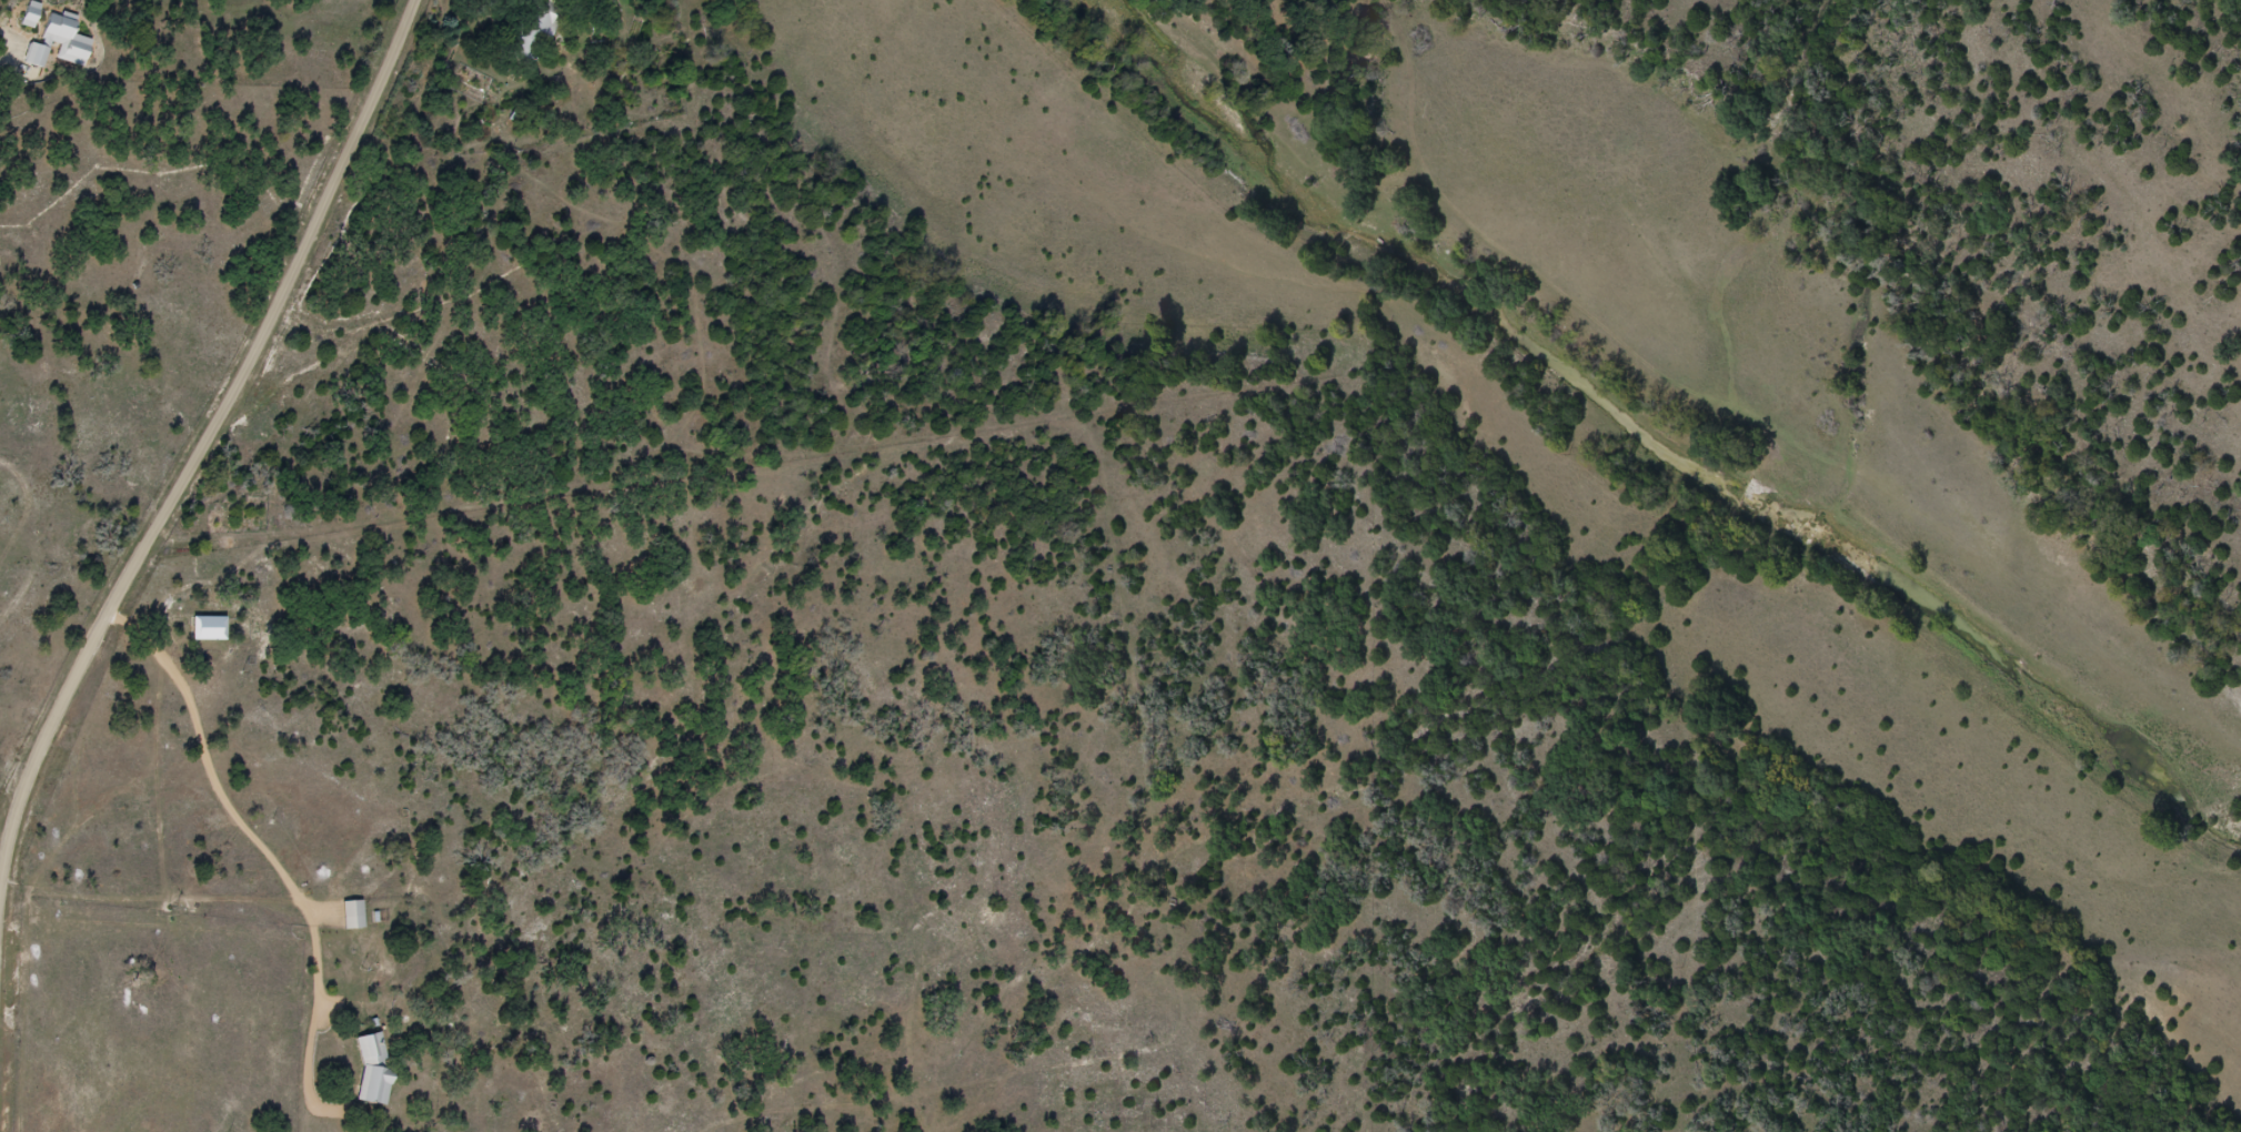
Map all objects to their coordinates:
building: (29, 14)
building: (536, 30)
building: (59, 43)
road: (229, 452)
building: (353, 916)
building: (373, 1070)

